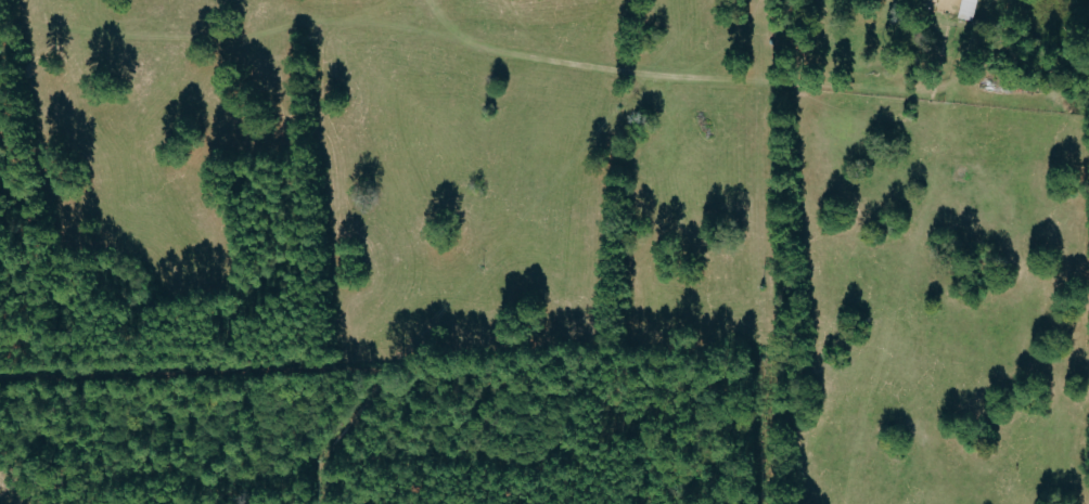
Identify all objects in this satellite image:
building: (970, 10)

